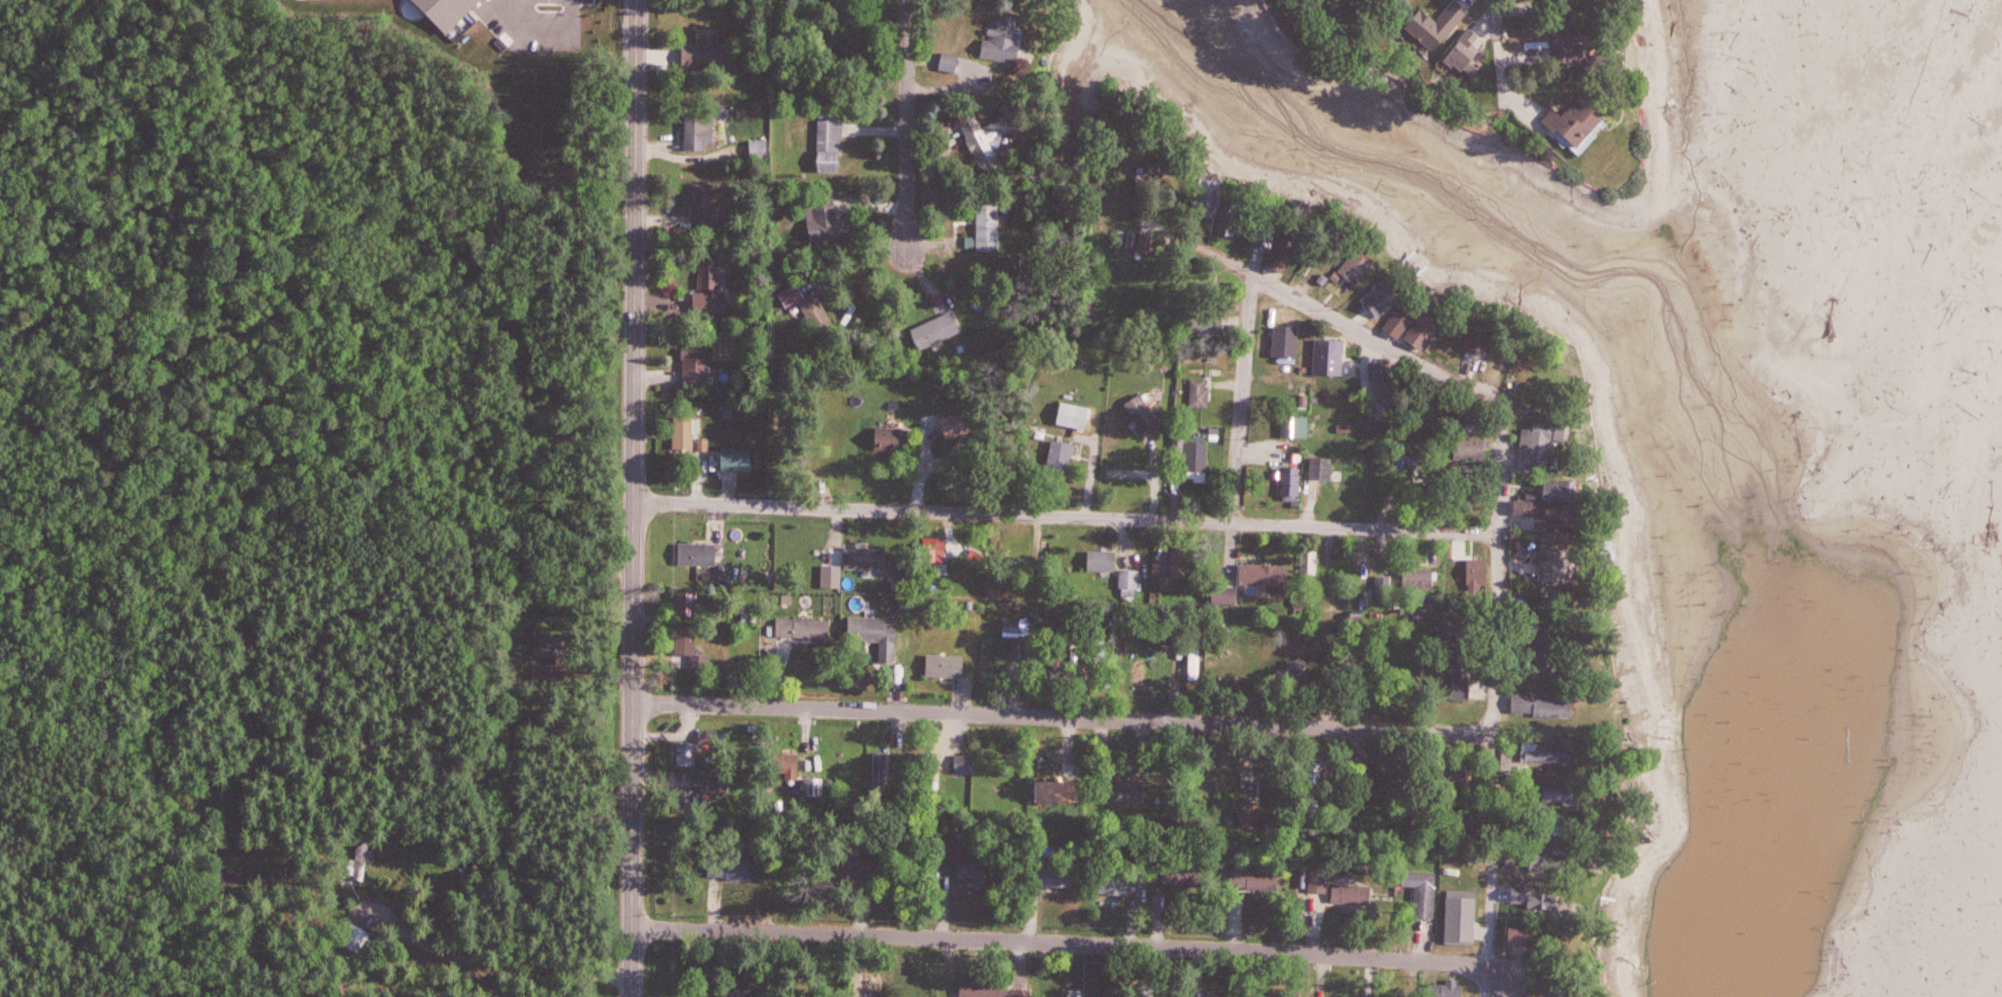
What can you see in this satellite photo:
building: (1367, 4)
building: (1566, 6)
building: (1429, 27)
building: (1007, 38)
building: (703, 46)
building: (1464, 51)
building: (1577, 52)
road: (1491, 66)
road: (906, 117)
building: (1573, 120)
building: (702, 131)
building: (991, 140)
building: (832, 145)
building: (760, 149)
building: (1157, 173)
building: (1212, 198)
building: (704, 204)
building: (828, 220)
building: (1233, 220)
building: (993, 227)
building: (1270, 232)
building: (1148, 243)
building: (1292, 251)
road: (1230, 264)
building: (1360, 266)
building: (712, 286)
building: (1390, 297)
building: (812, 309)
building: (1210, 321)
building: (1417, 326)
building: (938, 330)
building: (1484, 342)
building: (1332, 356)
building: (698, 363)
building: (1201, 393)
road: (1243, 400)
building: (1075, 416)
building: (1481, 422)
building: (1297, 427)
road: (1502, 428)
building: (686, 432)
building: (893, 438)
building: (1547, 441)
building: (1475, 449)
building: (1063, 457)
building: (1199, 457)
building: (739, 458)
building: (1324, 468)
building: (1293, 483)
building: (1565, 490)
building: (1344, 493)
road: (637, 498)
building: (1530, 508)
road: (1068, 519)
building: (699, 555)
building: (1561, 557)
building: (867, 558)
building: (1104, 559)
building: (1267, 575)
building: (1421, 578)
building: (1131, 584)
building: (1227, 597)
building: (689, 604)
building: (804, 627)
building: (878, 635)
building: (687, 641)
building: (1552, 644)
building: (550, 647)
building: (947, 666)
building: (1197, 666)
building: (1297, 669)
building: (1463, 680)
building: (1547, 706)
road: (1064, 722)
building: (689, 754)
building: (1548, 754)
building: (966, 765)
building: (1373, 783)
building: (714, 785)
building: (1130, 791)
building: (1061, 792)
building: (1568, 796)
building: (1253, 808)
building: (363, 857)
building: (1554, 861)
building: (731, 869)
building: (859, 870)
building: (975, 873)
building: (1181, 877)
building: (1057, 878)
building: (1257, 879)
building: (1123, 885)
building: (1424, 894)
building: (1356, 895)
building: (1552, 903)
building: (1464, 931)
building: (356, 937)
building: (1527, 938)
road: (1117, 949)
road: (486, 964)
building: (986, 987)

